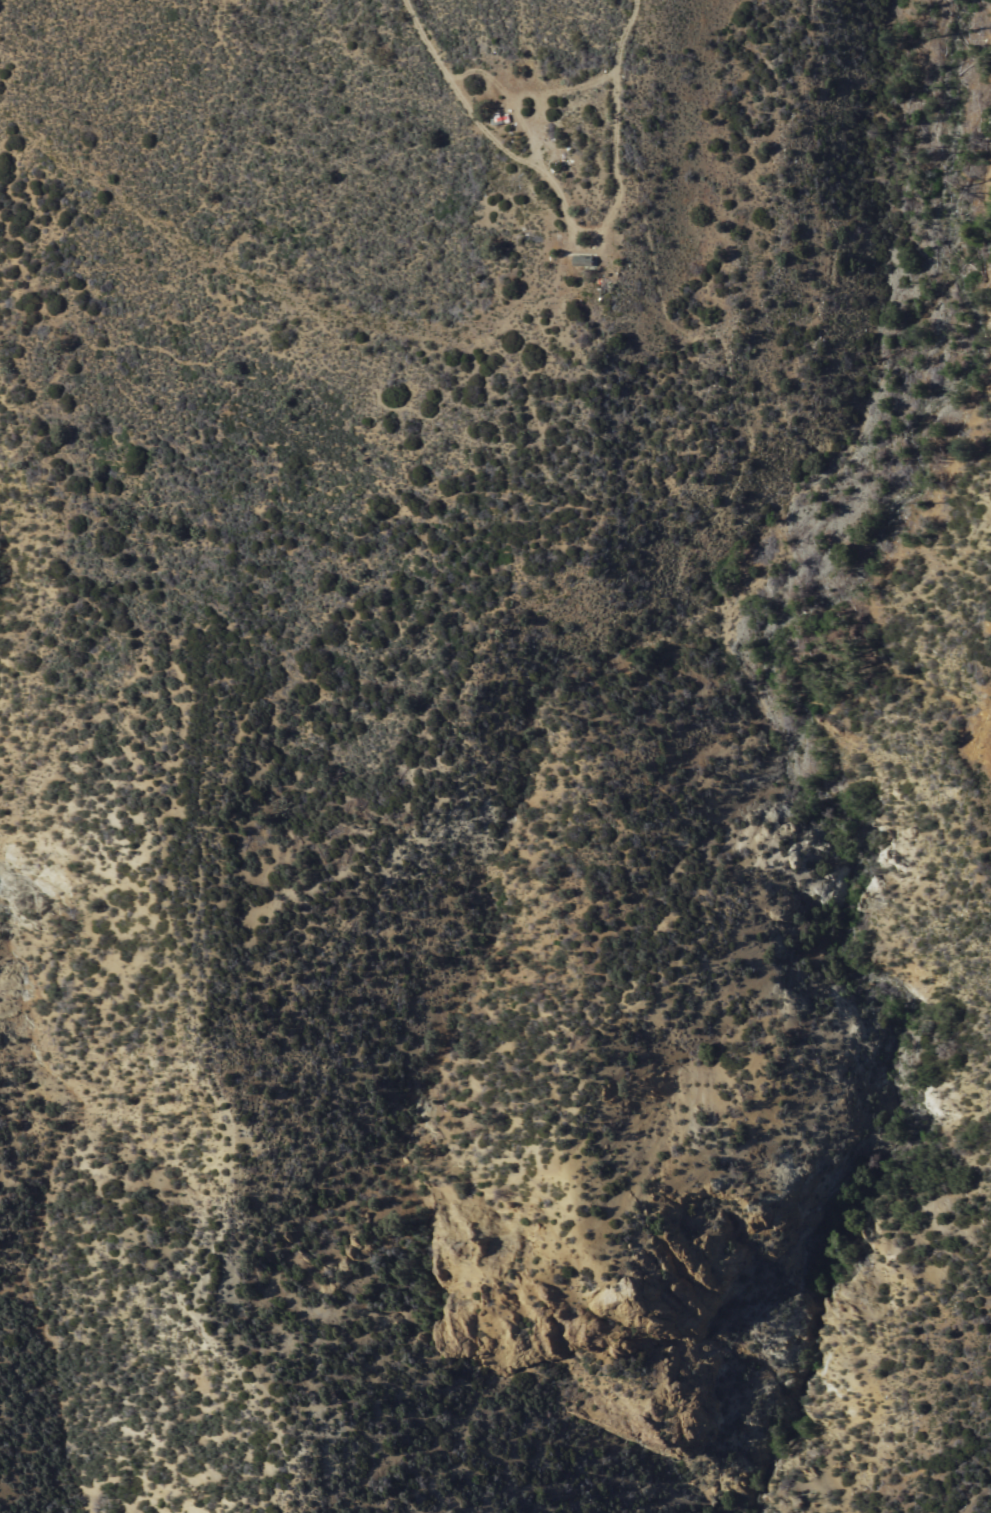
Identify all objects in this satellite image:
road: (616, 122)
road: (478, 125)

